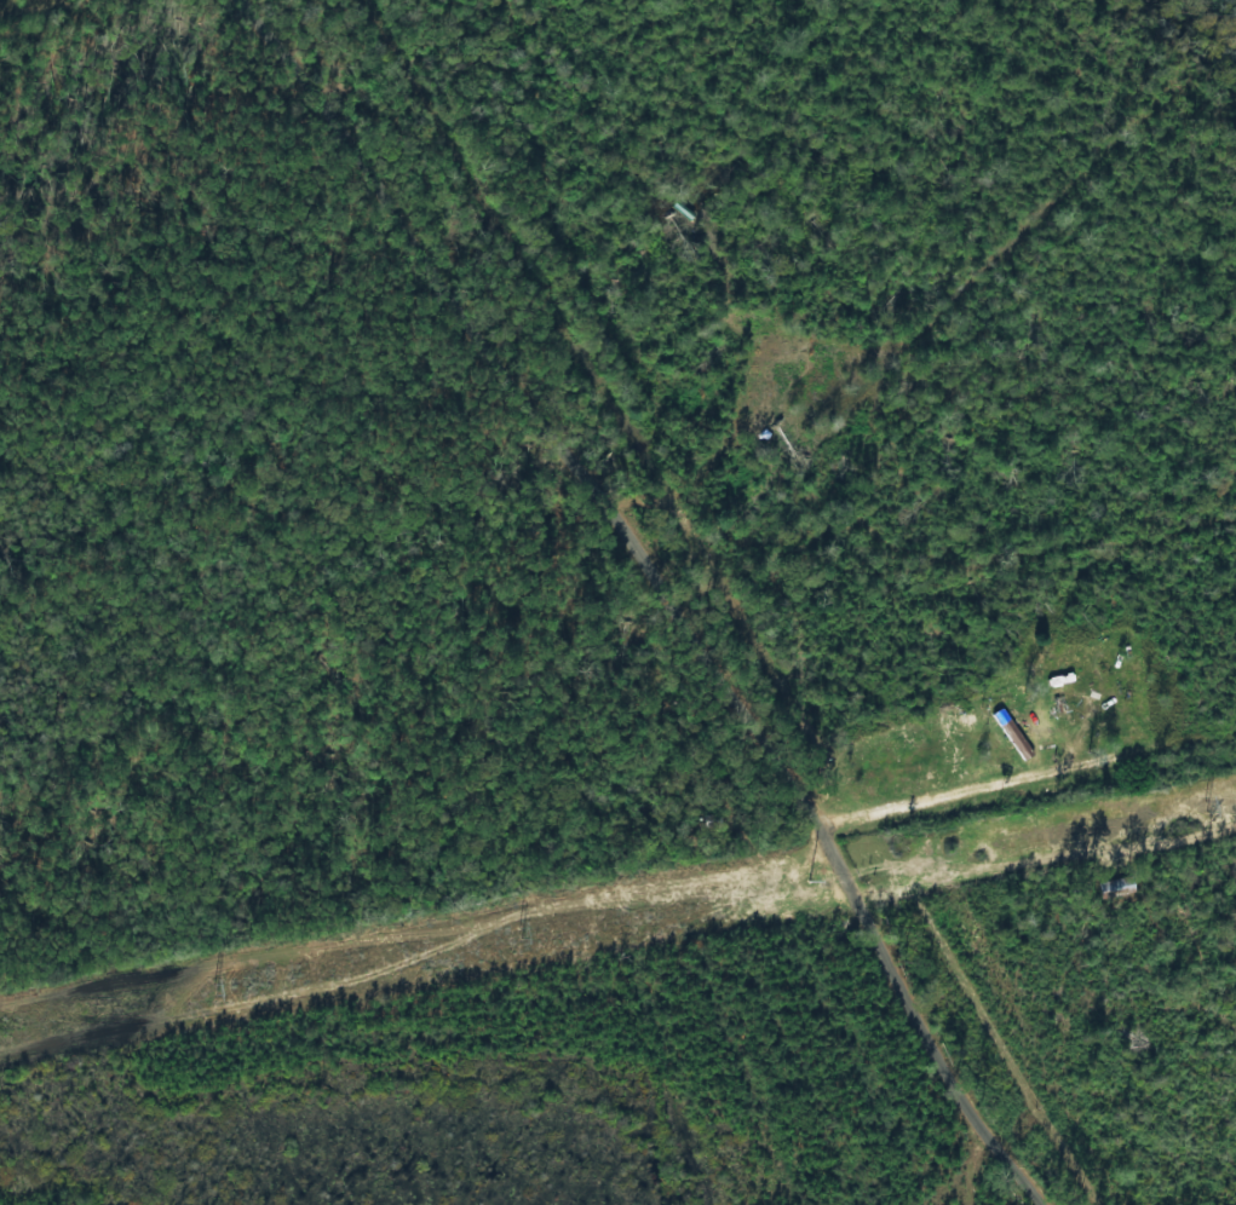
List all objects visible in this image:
road: (648, 598)
road: (1025, 754)

